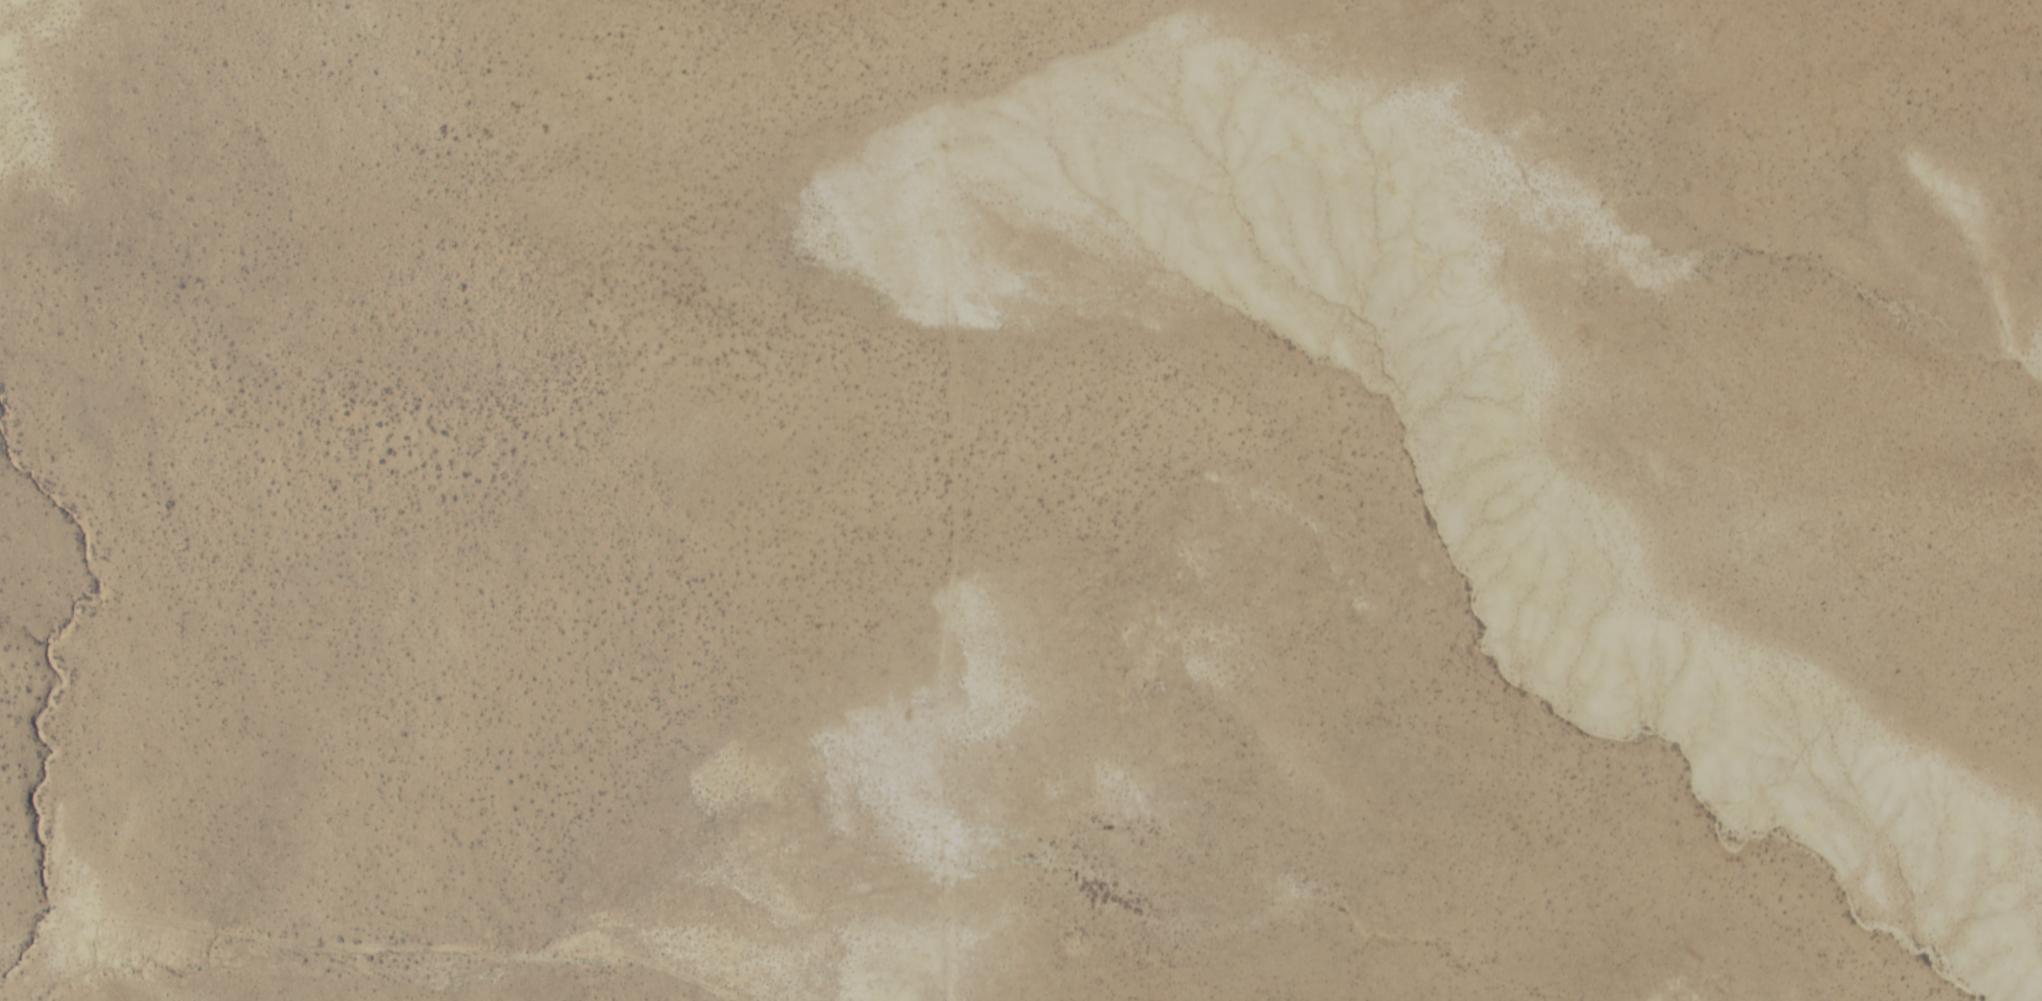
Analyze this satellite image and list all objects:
road: (972, 501)

